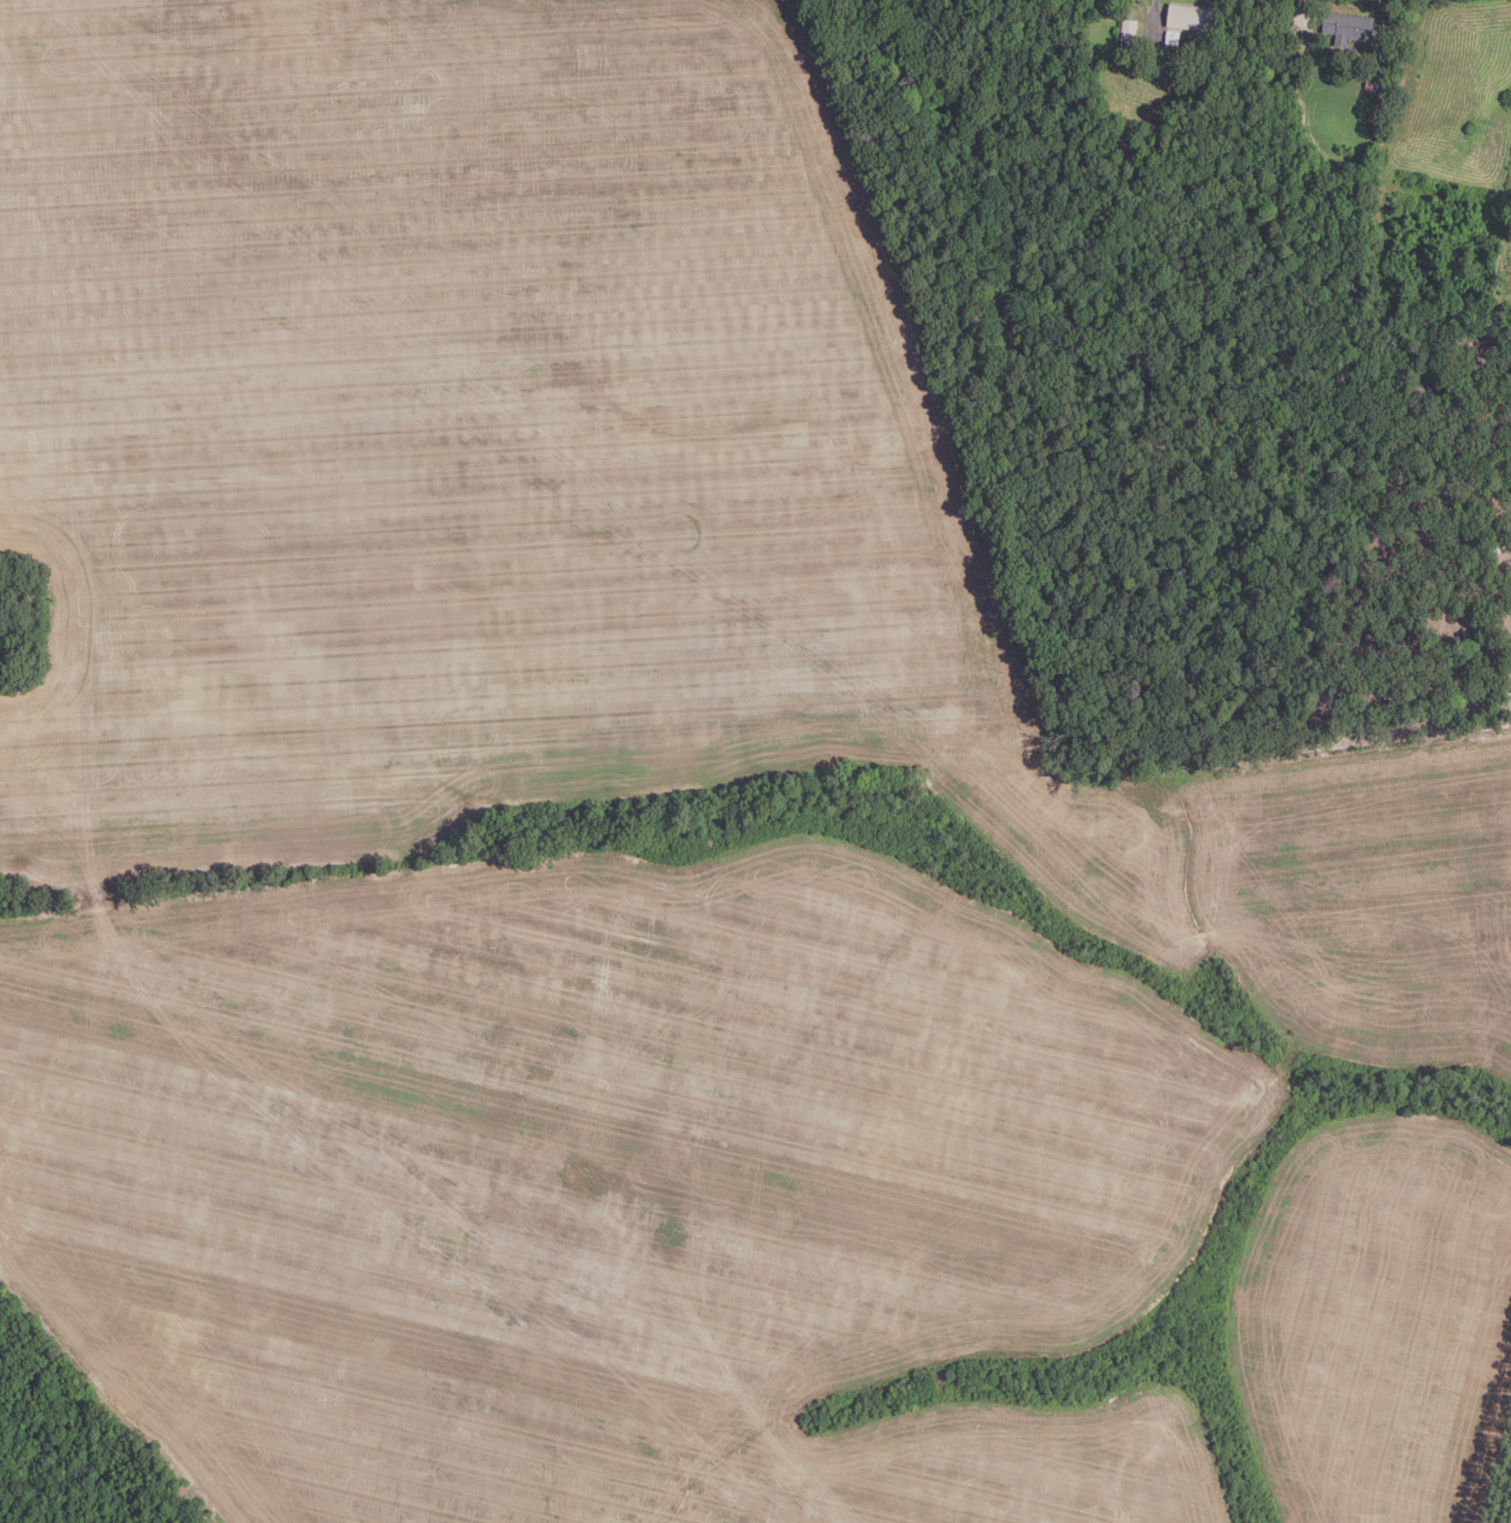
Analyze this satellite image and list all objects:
road: (1294, 3)
building: (1191, 18)
building: (1348, 28)
building: (1127, 35)
building: (1173, 38)
building: (1386, 60)
building: (1377, 72)
building: (1374, 86)
building: (1466, 635)

